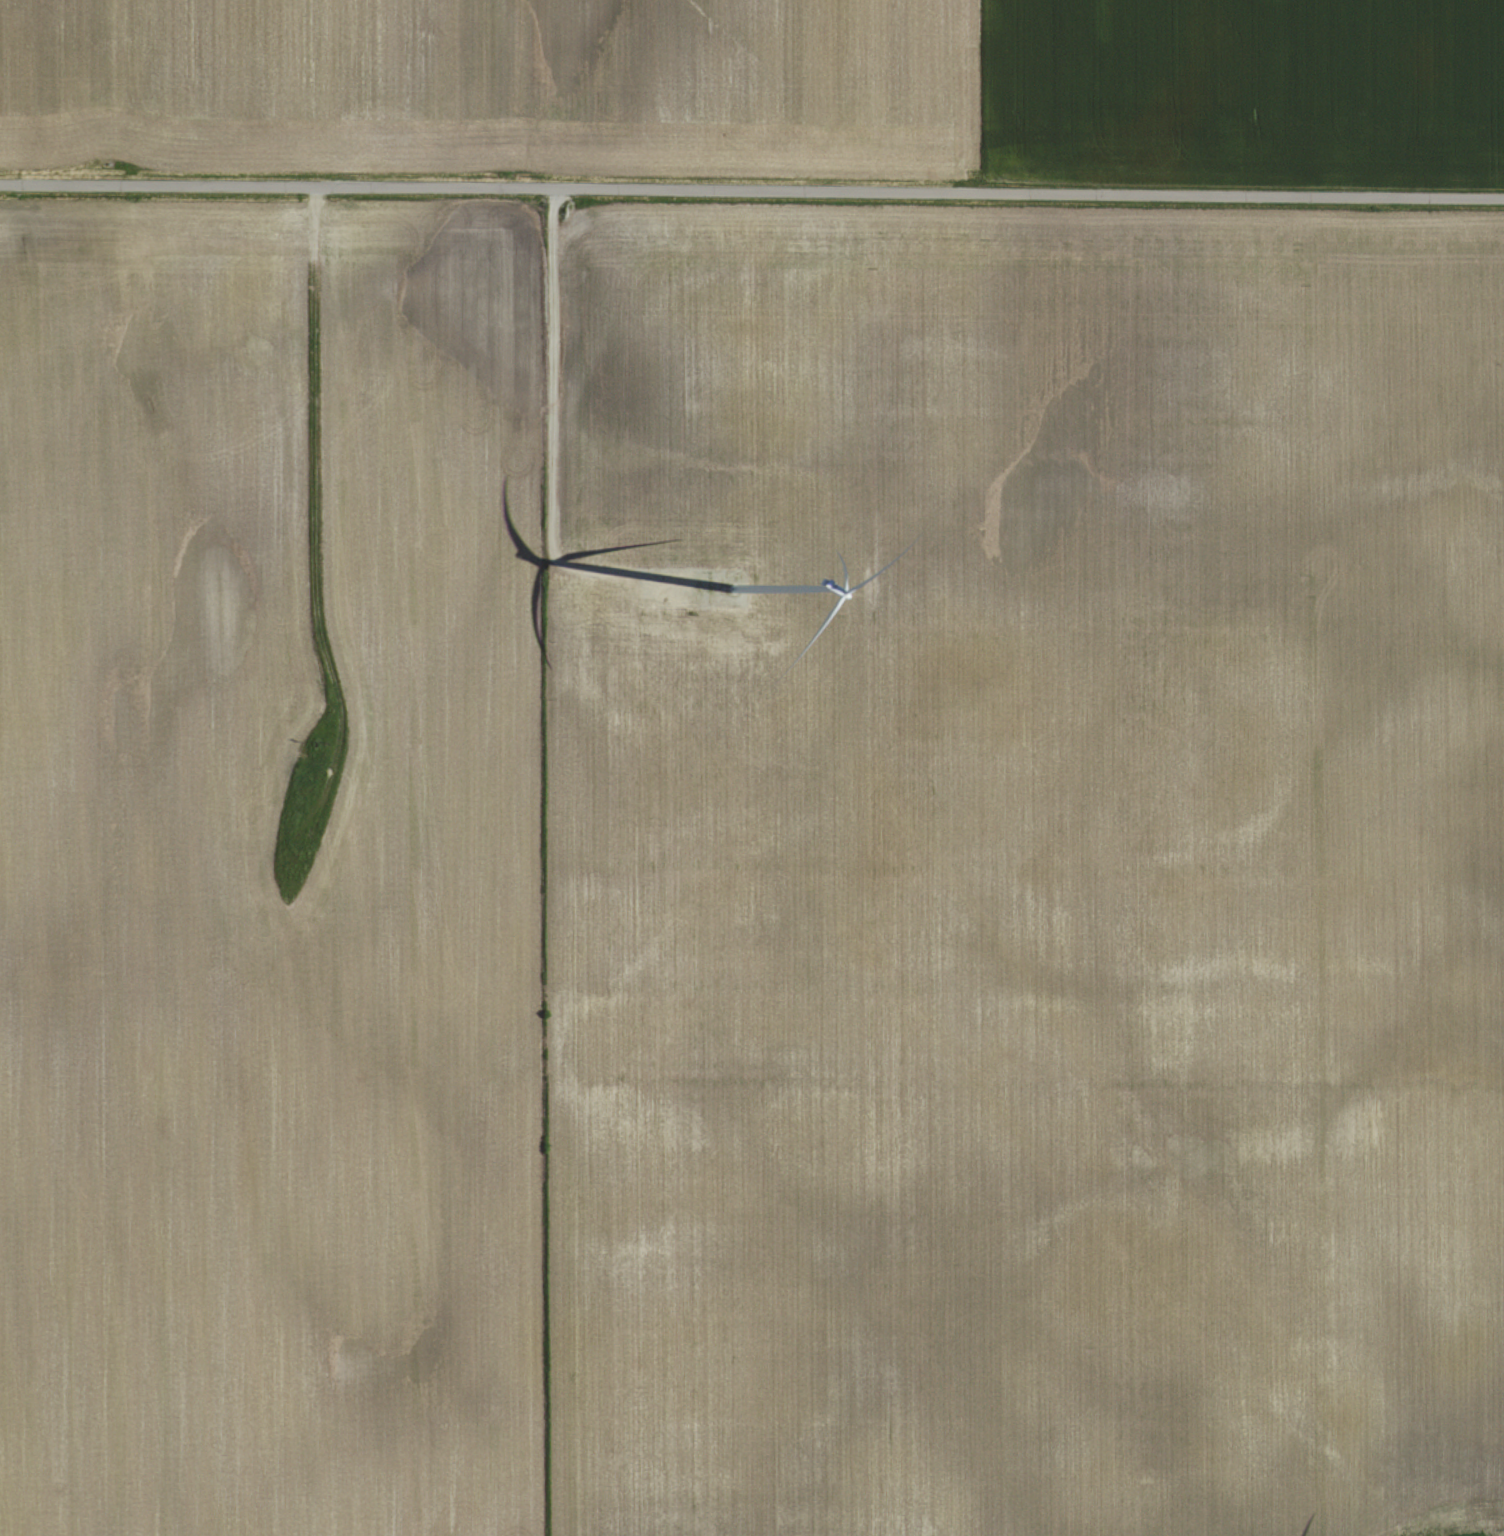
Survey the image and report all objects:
road: (752, 189)
road: (310, 520)
wind turbine: (730, 587)

